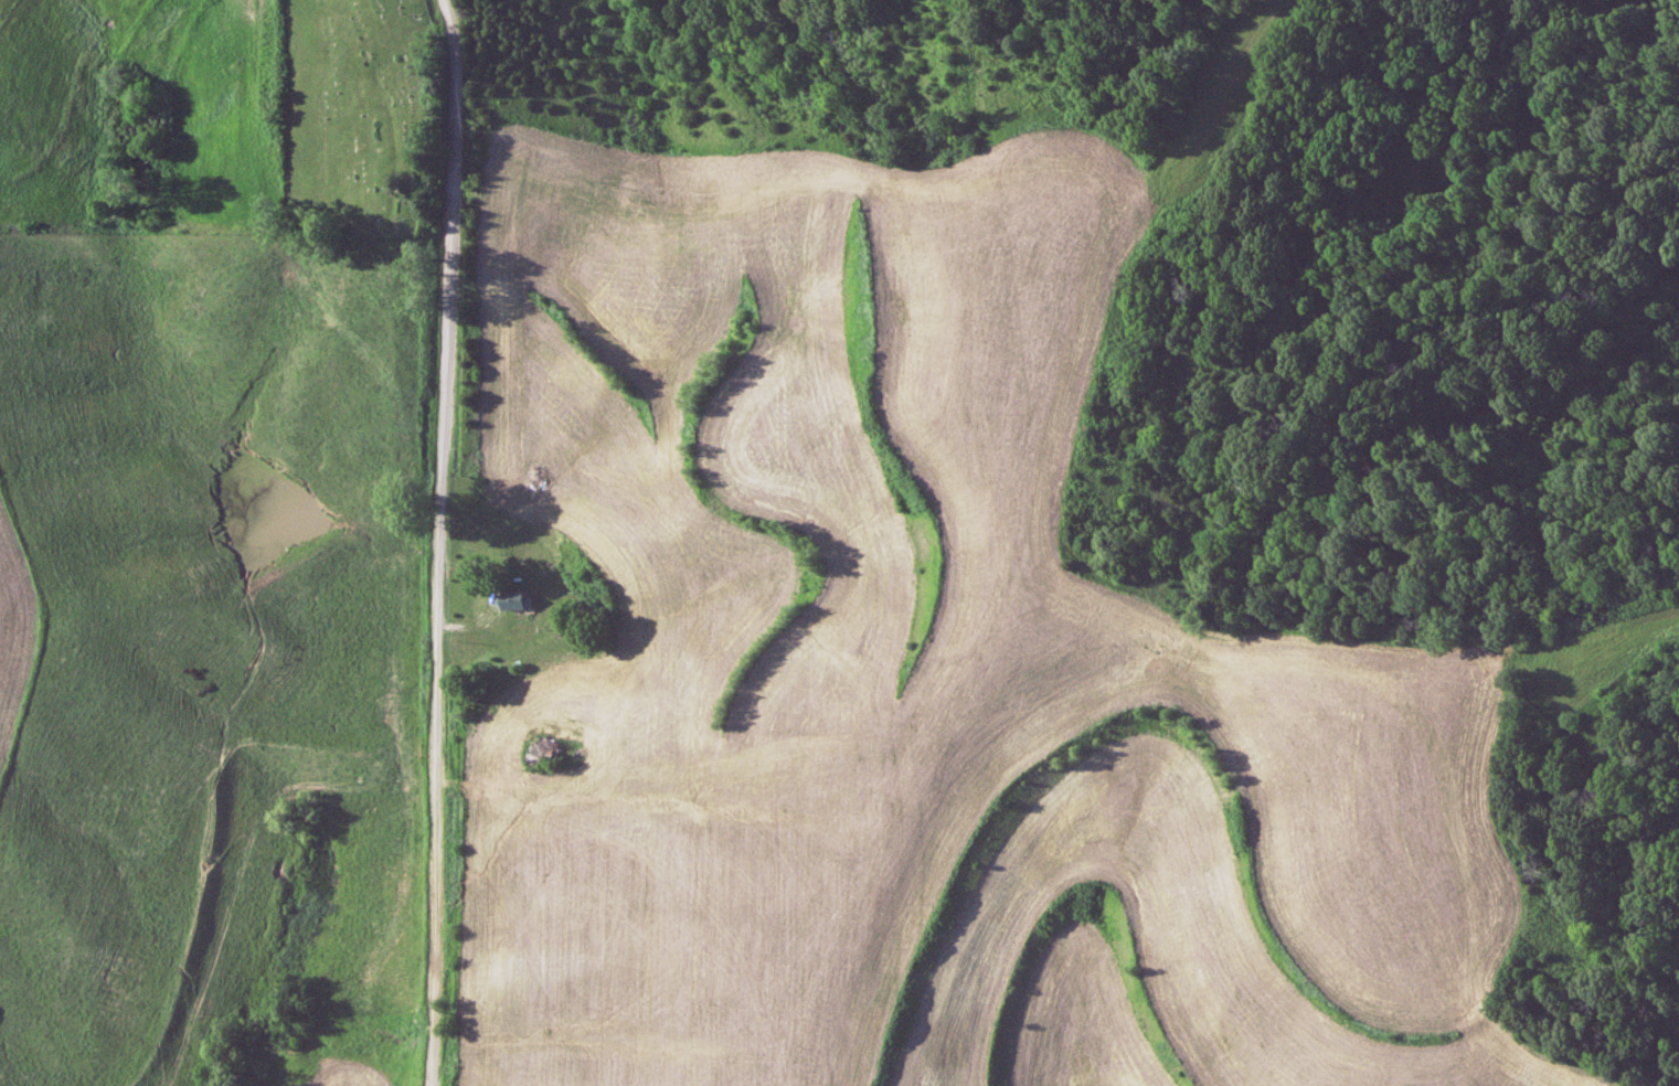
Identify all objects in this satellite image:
park: (365, 119)
road: (443, 542)

